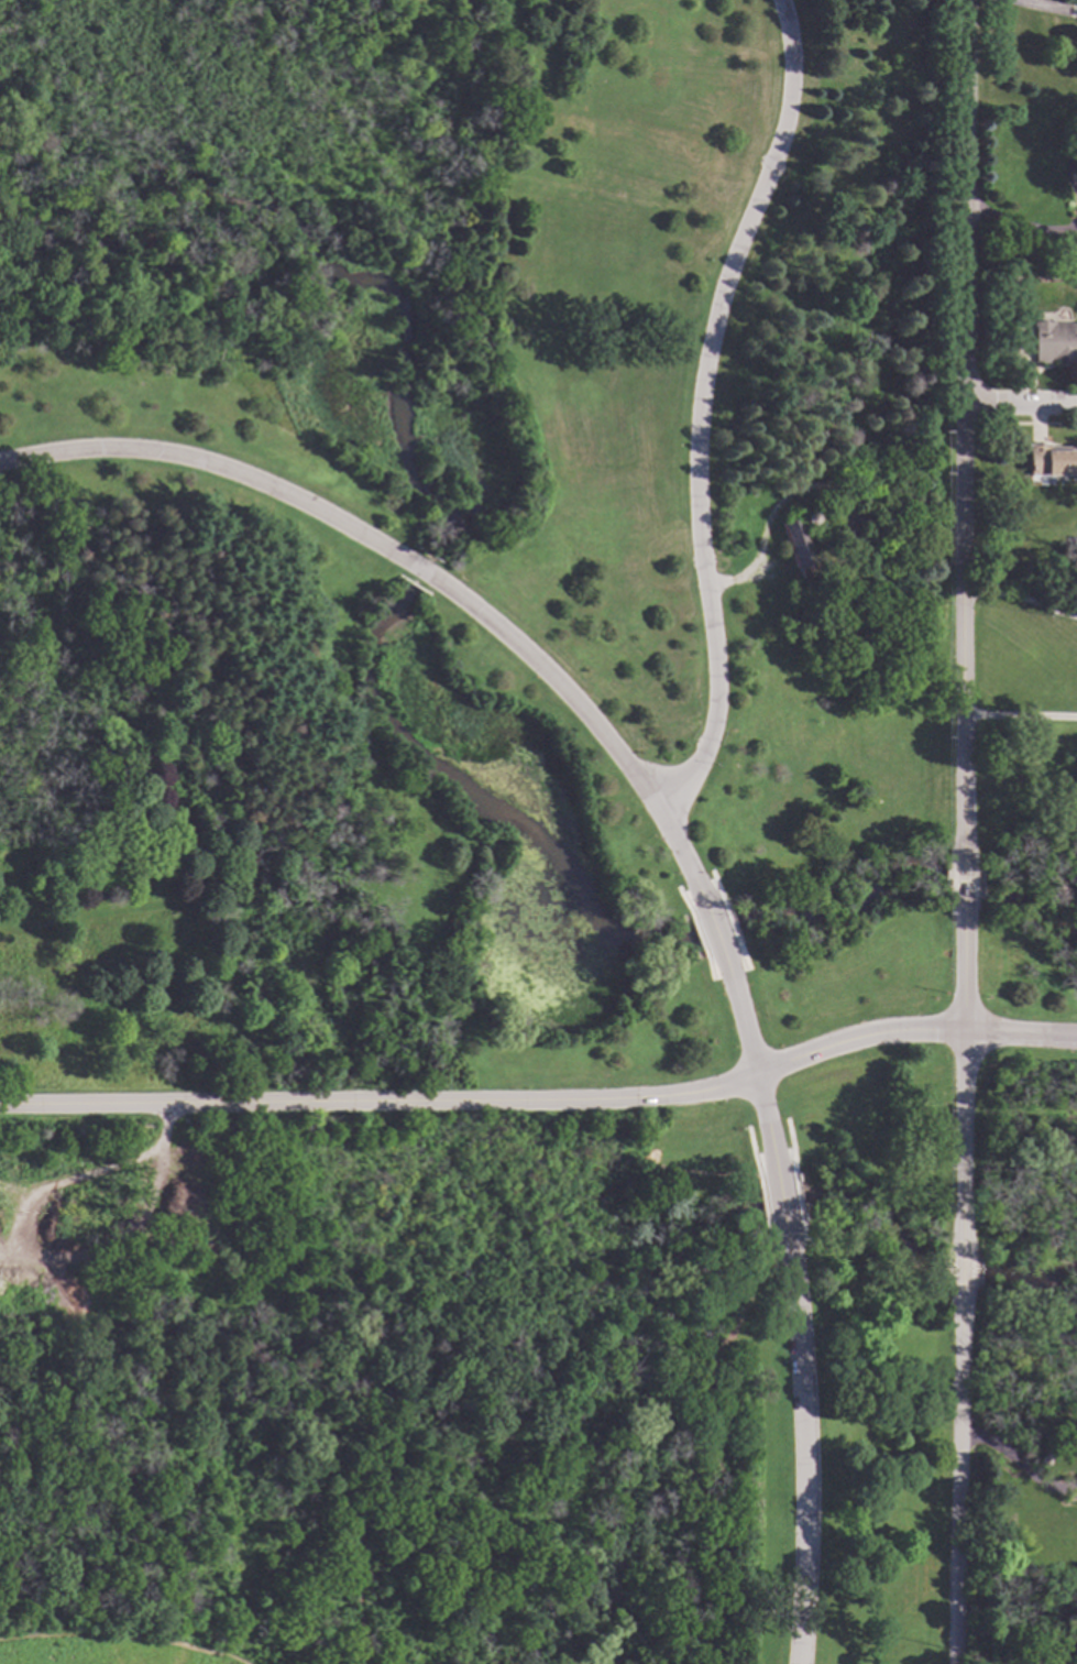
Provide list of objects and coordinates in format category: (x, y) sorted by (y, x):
road: (1036, 8)
road: (1020, 228)
road: (868, 249)
building: (1054, 342)
road: (1020, 404)
road: (700, 407)
road: (964, 426)
building: (1048, 461)
road: (211, 464)
road: (781, 505)
park: (472, 538)
building: (799, 547)
road: (424, 571)
road: (1021, 602)
building: (774, 611)
road: (1020, 721)
road: (596, 727)
road: (253, 736)
road: (964, 878)
road: (714, 931)
road: (964, 966)
road: (739, 1014)
road: (911, 1030)
road: (377, 1102)
road: (766, 1125)
park: (1024, 1132)
road: (961, 1142)
road: (750, 1151)
road: (18, 1189)
road: (762, 1204)
road: (780, 1204)
road: (767, 1242)
road: (6, 1252)
road: (40, 1260)
road: (959, 1273)
road: (407, 1303)
park: (483, 1380)
road: (802, 1447)
road: (713, 1459)
road: (1012, 1460)
road: (957, 1478)
road: (1071, 1490)
road: (1071, 1493)
park: (1020, 1625)
road: (123, 1636)

